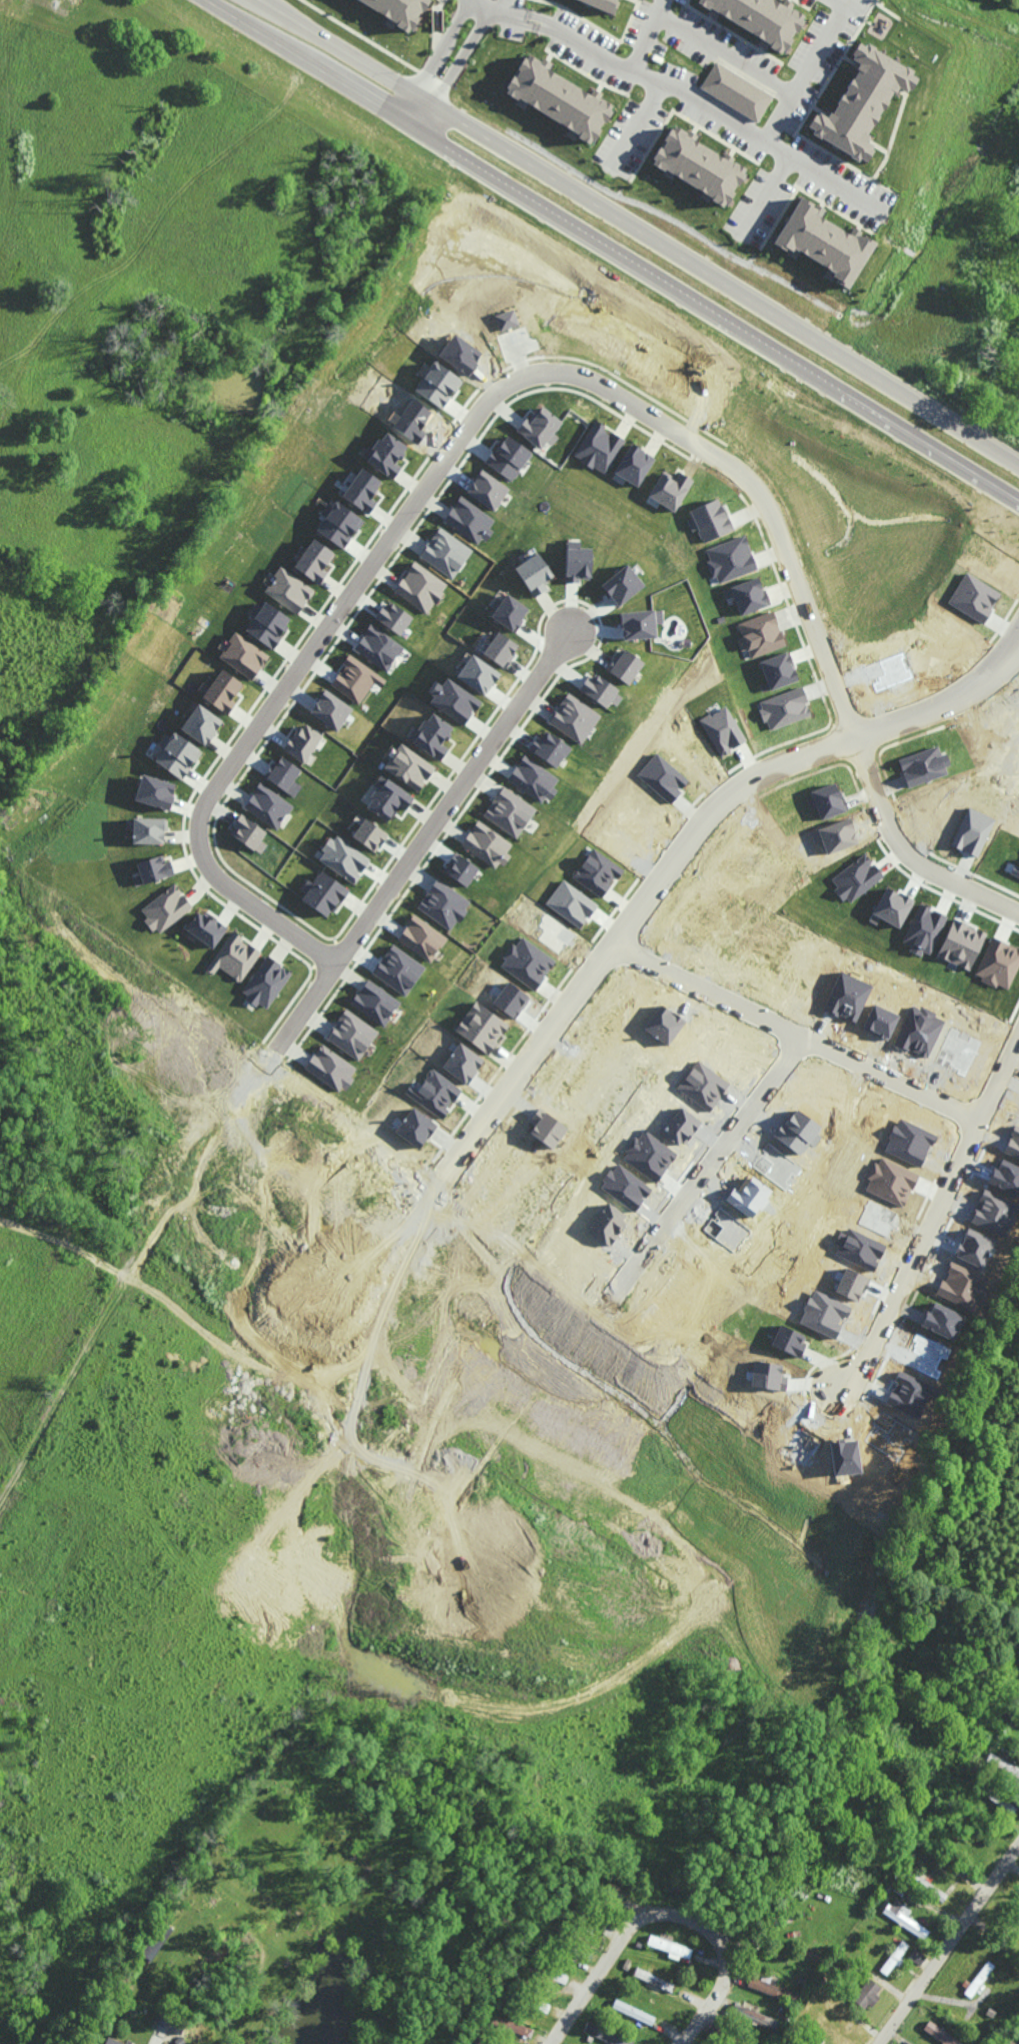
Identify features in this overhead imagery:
building: (602, 4)
building: (397, 10)
road: (508, 13)
building: (759, 18)
road: (979, 19)
road: (647, 33)
road: (587, 44)
road: (450, 47)
road: (726, 48)
road: (344, 85)
building: (735, 92)
building: (558, 98)
building: (861, 102)
road: (640, 120)
road: (769, 133)
building: (697, 165)
road: (821, 168)
road: (770, 183)
road: (639, 231)
building: (822, 242)
road: (750, 332)
road: (541, 374)
building: (437, 385)
building: (540, 428)
building: (598, 447)
building: (385, 454)
building: (508, 457)
building: (633, 465)
building: (487, 489)
building: (670, 489)
building: (361, 490)
building: (469, 520)
building: (337, 524)
building: (446, 553)
building: (314, 561)
building: (576, 562)
building: (534, 574)
building: (621, 585)
building: (421, 587)
building: (288, 590)
building: (748, 596)
building: (509, 612)
building: (394, 617)
building: (267, 624)
building: (639, 624)
building: (379, 647)
building: (500, 649)
building: (243, 656)
building: (625, 666)
building: (778, 670)
building: (477, 674)
building: (356, 679)
building: (220, 691)
building: (600, 691)
building: (453, 701)
building: (331, 710)
building: (574, 718)
building: (200, 724)
building: (722, 730)
building: (432, 735)
building: (303, 742)
building: (548, 748)
building: (176, 754)
building: (924, 766)
building: (409, 767)
building: (284, 775)
building: (533, 779)
building: (154, 792)
building: (387, 799)
building: (267, 806)
building: (509, 812)
building: (147, 830)
road: (424, 832)
building: (249, 833)
building: (369, 835)
building: (487, 845)
road: (685, 845)
building: (343, 859)
building: (460, 869)
building: (152, 870)
building: (596, 872)
building: (857, 878)
building: (322, 893)
building: (571, 903)
building: (443, 904)
building: (893, 907)
building: (165, 908)
building: (205, 928)
building: (925, 928)
building: (421, 938)
building: (963, 945)
building: (234, 957)
building: (998, 963)
building: (398, 970)
road: (2, 981)
building: (266, 983)
building: (375, 1002)
building: (351, 1034)
road: (795, 1037)
building: (331, 1068)
road: (193, 1116)
road: (707, 1165)
road: (174, 1195)
road: (932, 1219)
road: (264, 1425)
road: (478, 1467)
road: (469, 1698)
road: (604, 1706)
building: (1003, 1765)
road: (665, 1914)
building: (904, 1918)
building: (156, 1941)
road: (949, 1945)
building: (670, 1947)
building: (916, 1956)
building: (894, 1957)
building: (978, 1979)
building: (772, 1990)
building: (866, 1994)
building: (633, 2012)
building: (754, 2016)
building: (510, 2027)
building: (606, 2034)
building: (941, 2034)
road: (157, 2040)
building: (111, 2042)

